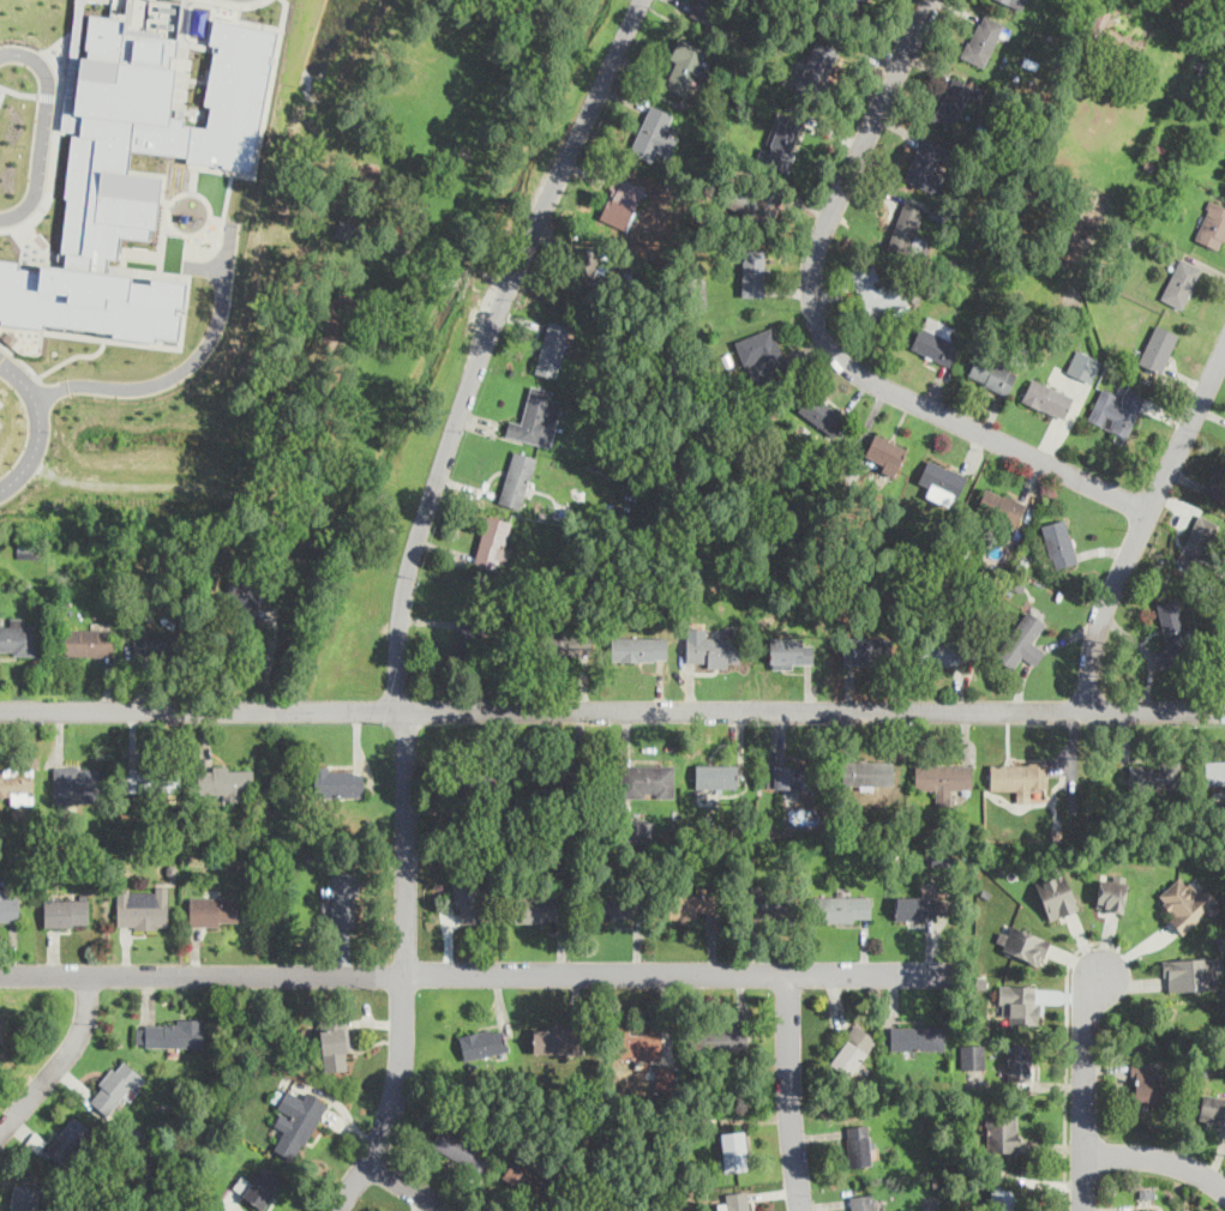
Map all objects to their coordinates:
road: (239, 2)
building: (1015, 2)
building: (852, 6)
building: (704, 8)
building: (981, 37)
road: (200, 43)
road: (10, 50)
road: (179, 58)
building: (684, 66)
building: (817, 68)
road: (192, 78)
road: (2, 91)
road: (18, 91)
road: (48, 95)
building: (954, 101)
building: (151, 126)
road: (262, 128)
building: (655, 131)
road: (42, 138)
building: (780, 141)
road: (53, 149)
building: (926, 163)
road: (162, 174)
building: (1224, 174)
building: (750, 200)
road: (226, 203)
building: (621, 204)
building: (1212, 224)
building: (907, 228)
building: (343, 229)
road: (187, 233)
road: (139, 255)
building: (580, 266)
road: (122, 267)
road: (140, 270)
road: (121, 271)
building: (752, 272)
road: (161, 275)
building: (1181, 282)
building: (873, 291)
park: (350, 299)
building: (90, 300)
road: (180, 336)
road: (828, 336)
building: (935, 338)
building: (554, 347)
building: (1158, 347)
road: (77, 353)
building: (761, 356)
road: (20, 360)
road: (186, 364)
building: (1083, 364)
building: (992, 372)
building: (1046, 397)
road: (0, 402)
building: (1116, 409)
building: (822, 414)
building: (536, 417)
parking lot: (1, 424)
road: (38, 424)
building: (884, 453)
building: (517, 477)
building: (941, 481)
building: (1219, 483)
building: (998, 505)
road: (1142, 519)
building: (1201, 534)
building: (492, 541)
building: (1059, 542)
building: (29, 548)
road: (404, 591)
building: (244, 602)
building: (1171, 633)
building: (476, 634)
building: (17, 635)
building: (89, 640)
building: (1022, 640)
building: (152, 641)
building: (566, 641)
building: (638, 647)
building: (866, 649)
building: (711, 650)
building: (783, 651)
building: (939, 651)
road: (612, 710)
building: (1213, 767)
building: (863, 772)
building: (1154, 775)
building: (787, 776)
building: (942, 777)
building: (1019, 777)
building: (154, 778)
building: (647, 779)
building: (716, 779)
building: (224, 781)
building: (338, 782)
building: (76, 783)
building: (17, 784)
building: (554, 784)
building: (485, 794)
building: (633, 827)
building: (1055, 890)
building: (1111, 891)
building: (343, 898)
building: (469, 899)
building: (767, 903)
building: (1187, 903)
building: (8, 904)
building: (615, 904)
building: (692, 904)
building: (142, 906)
building: (915, 906)
building: (536, 908)
building: (841, 908)
building: (66, 910)
building: (214, 910)
building: (1021, 942)
building: (1193, 972)
road: (473, 974)
building: (1019, 1002)
building: (1, 1028)
building: (174, 1032)
building: (917, 1037)
building: (721, 1038)
building: (552, 1040)
building: (482, 1042)
building: (635, 1043)
building: (334, 1046)
building: (852, 1050)
building: (968, 1054)
road: (1067, 1056)
building: (1019, 1059)
road: (61, 1061)
building: (667, 1077)
building: (1146, 1080)
building: (114, 1086)
road: (788, 1091)
road: (1085, 1091)
building: (1211, 1107)
building: (296, 1121)
building: (1002, 1131)
building: (70, 1139)
building: (860, 1144)
building: (461, 1149)
building: (734, 1150)
road: (1158, 1157)
building: (529, 1179)
building: (263, 1185)
road: (410, 1186)
building: (25, 1198)
building: (1001, 1198)
building: (734, 1201)
building: (861, 1201)
building: (587, 1210)
building: (1146, 1210)

